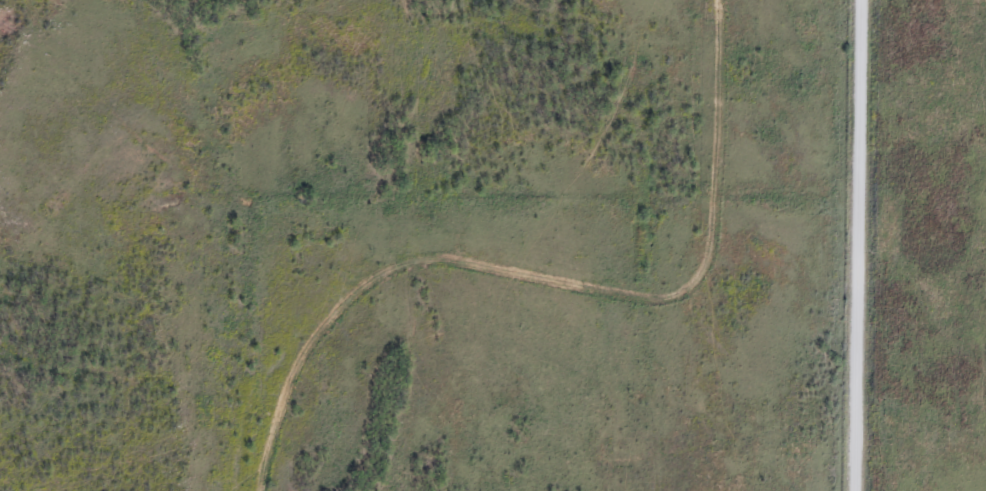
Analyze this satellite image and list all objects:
road: (863, 245)

